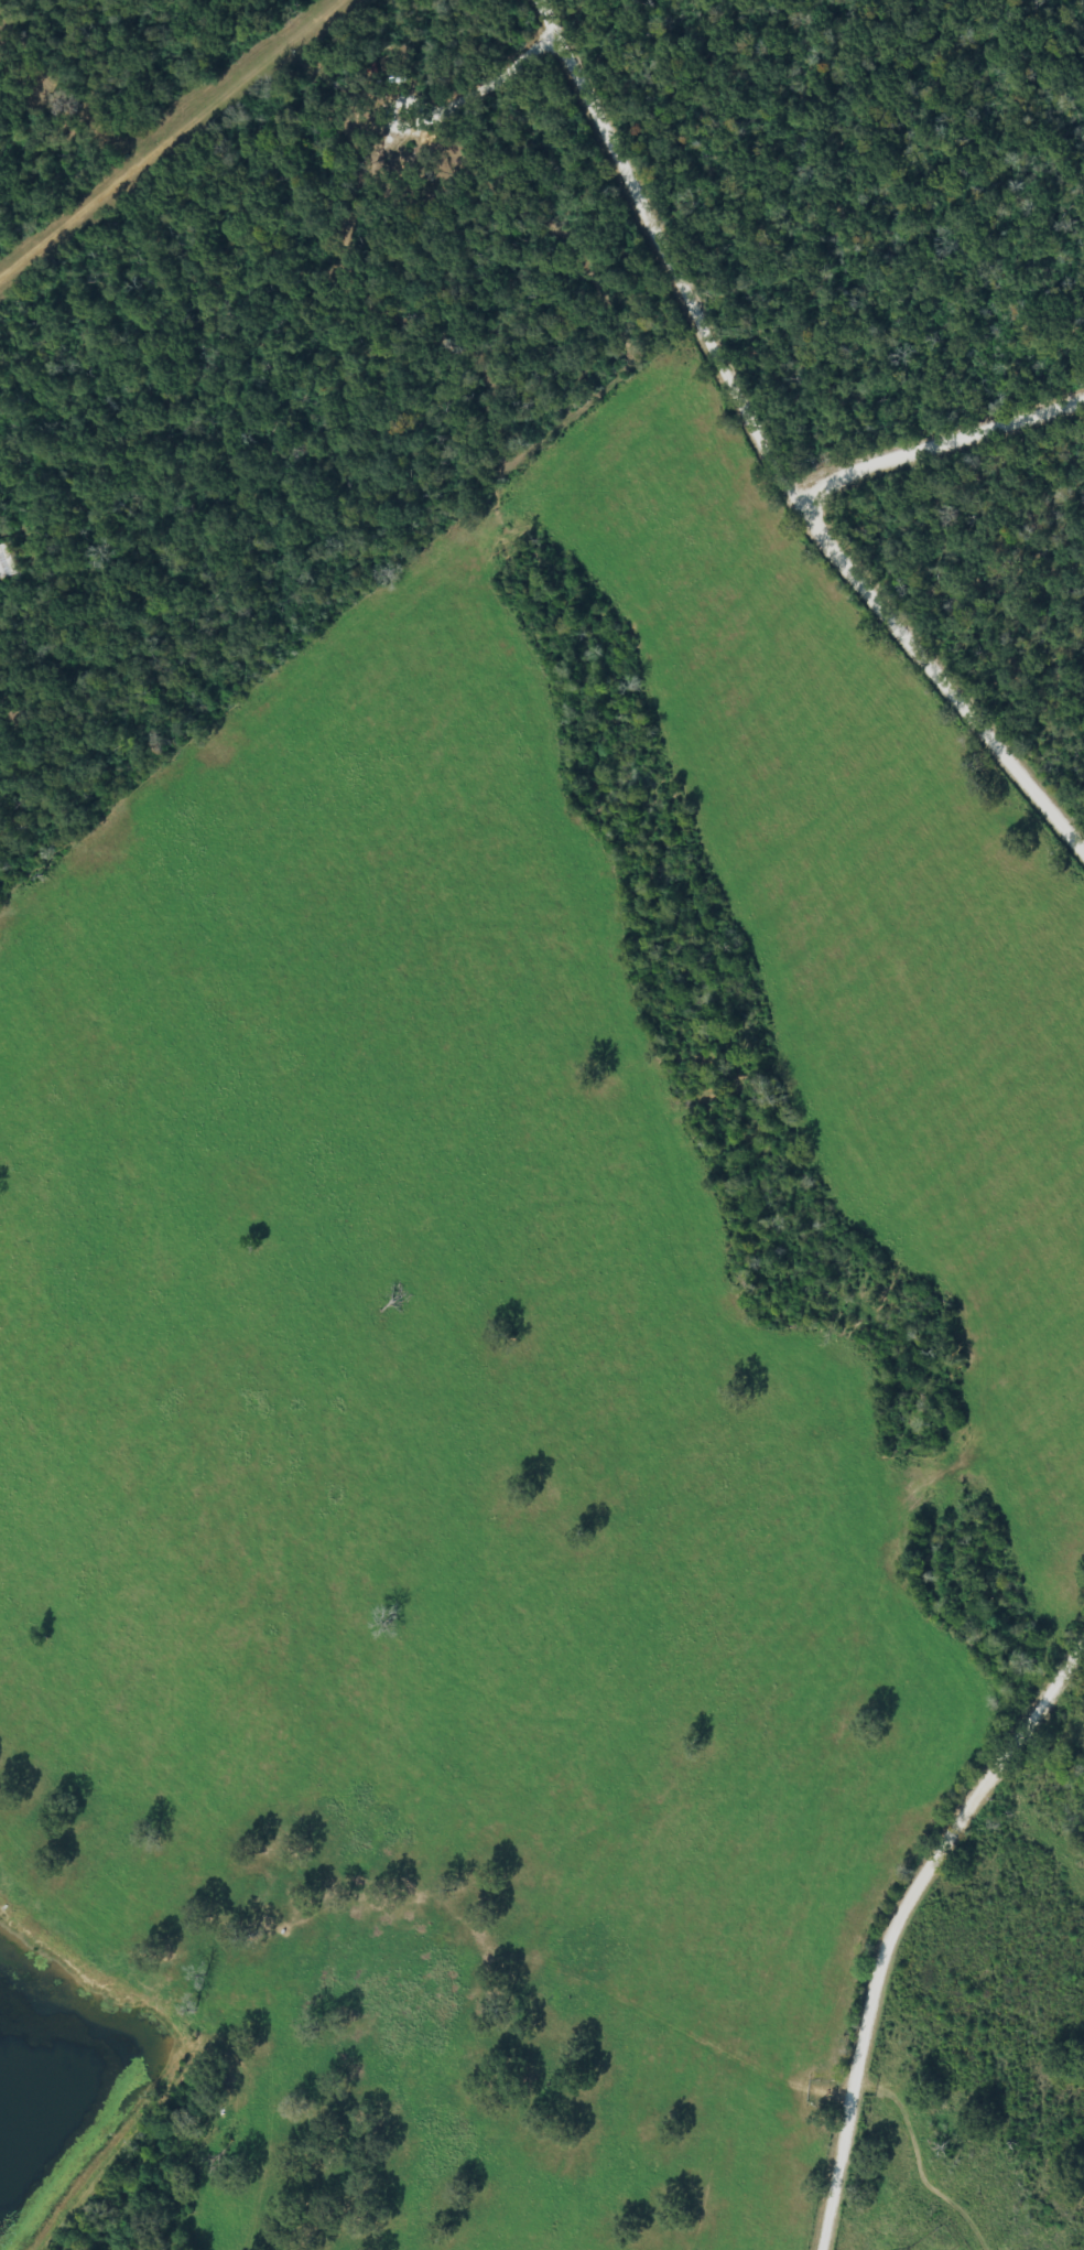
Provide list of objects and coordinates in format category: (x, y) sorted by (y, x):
road: (665, 284)
building: (6, 563)
road: (896, 584)
road: (948, 1840)
road: (835, 2147)
road: (919, 2147)

